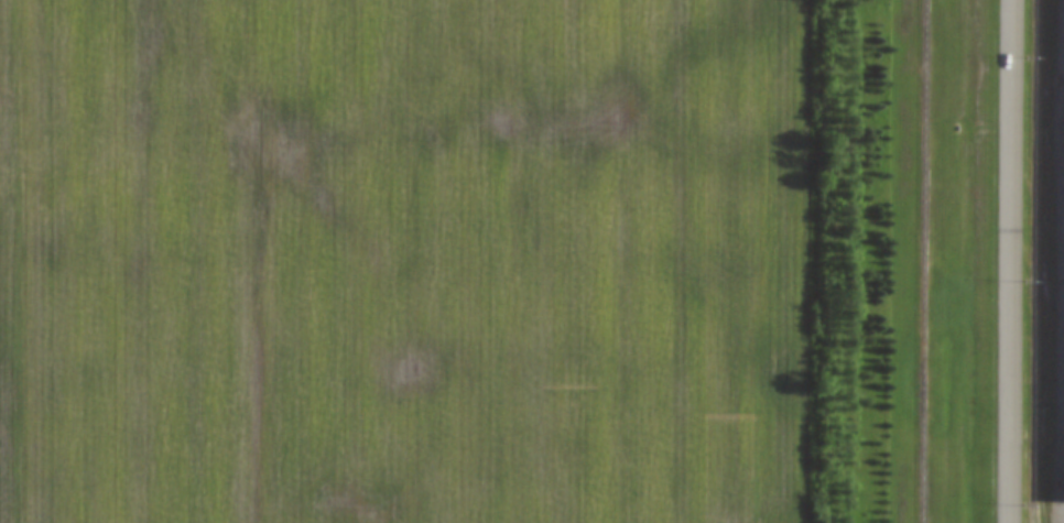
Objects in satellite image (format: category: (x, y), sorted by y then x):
road: (1009, 261)

